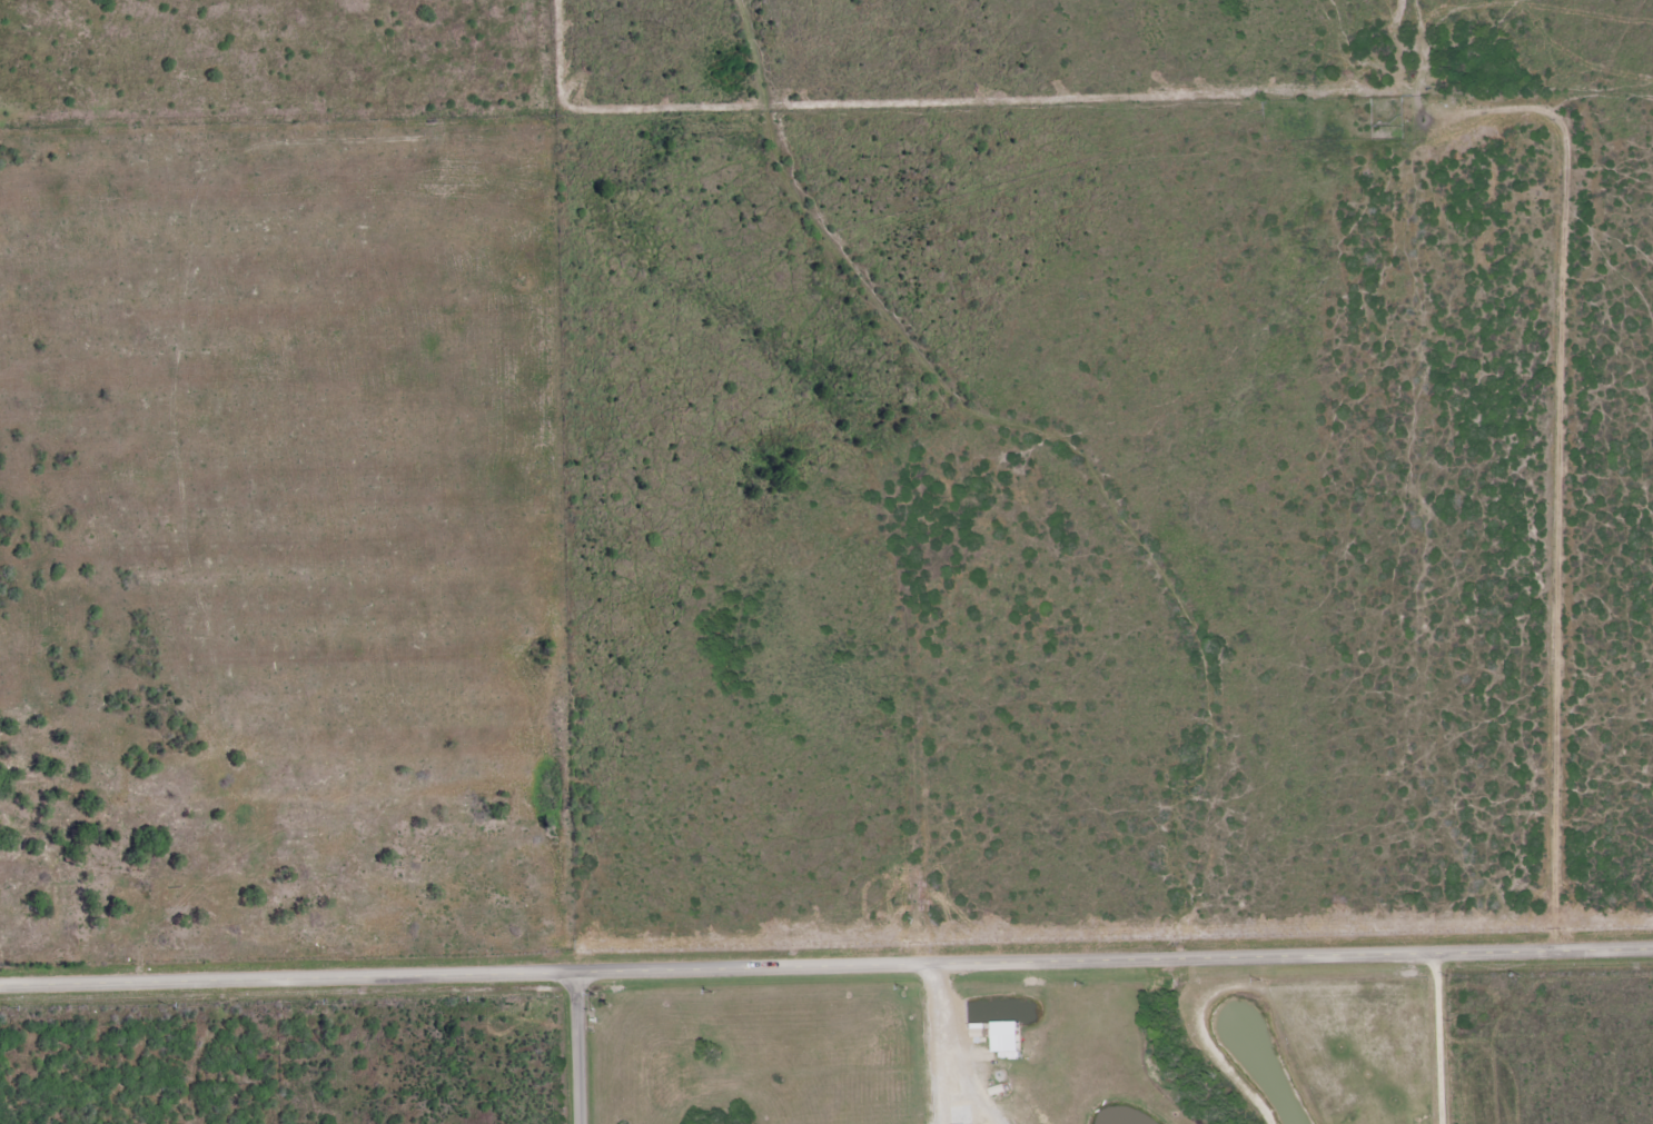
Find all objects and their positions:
road: (825, 966)
building: (1007, 1037)
road: (582, 1048)

